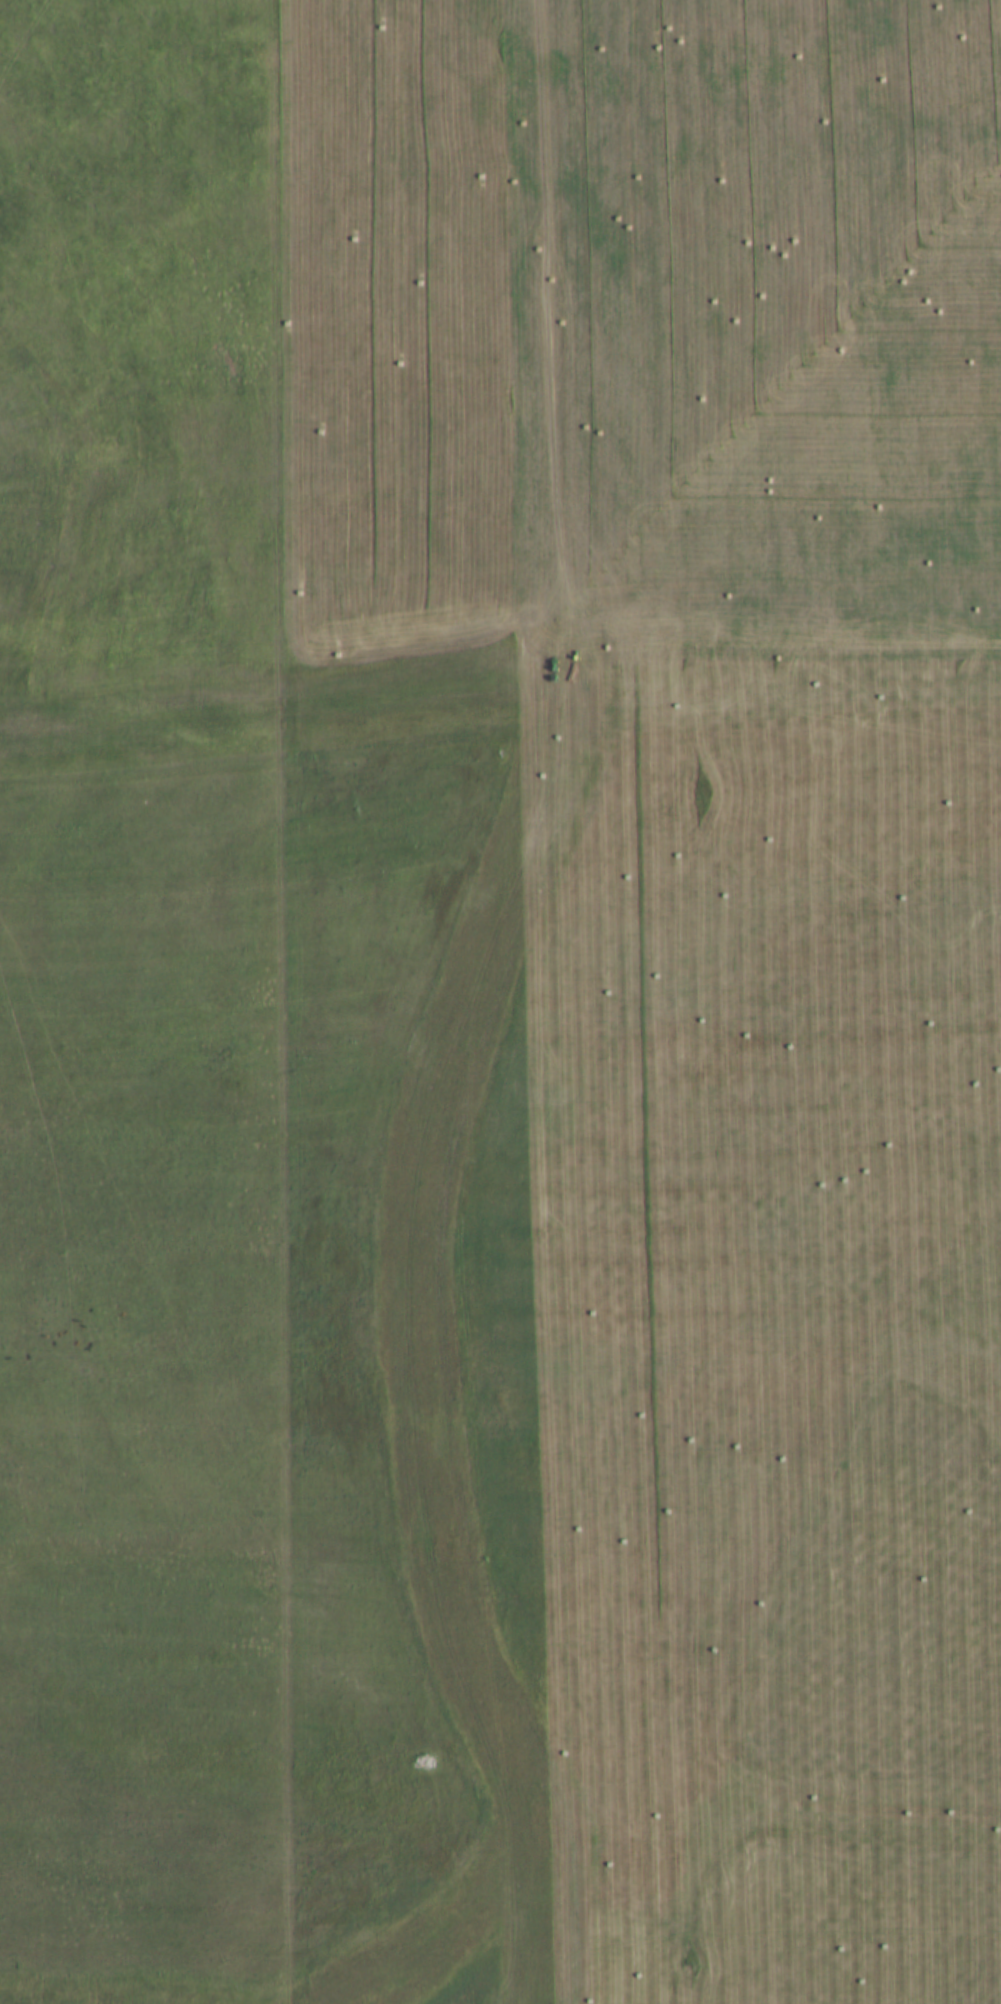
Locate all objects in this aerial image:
quarry: (500, 1002)

